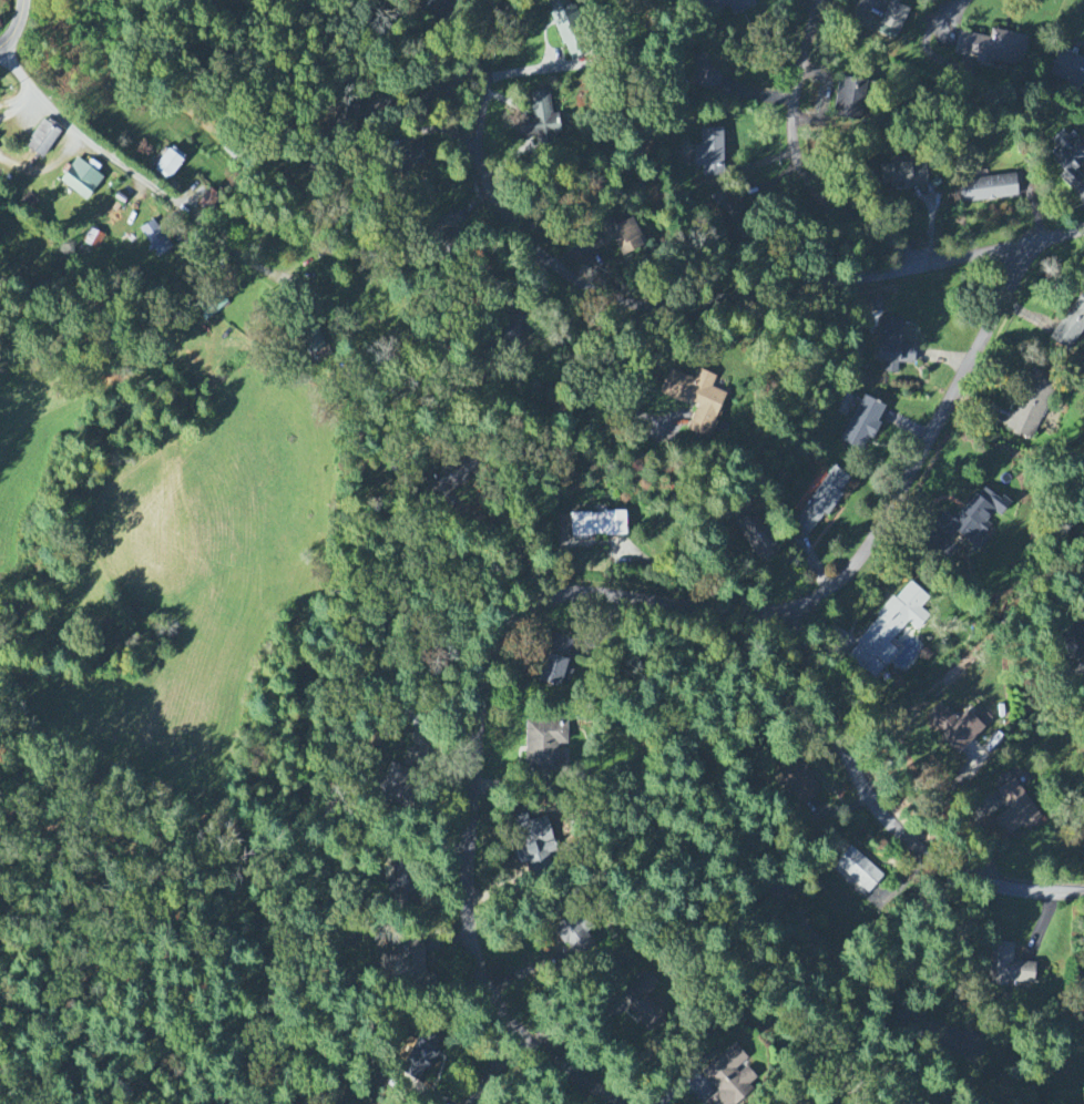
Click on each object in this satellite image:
building: (738, 6)
building: (437, 10)
building: (893, 20)
building: (563, 22)
road: (17, 27)
road: (928, 37)
building: (993, 48)
building: (1068, 70)
building: (706, 74)
building: (850, 100)
road: (10, 104)
road: (17, 106)
building: (348, 111)
road: (406, 114)
building: (543, 119)
road: (456, 120)
building: (42, 141)
building: (710, 154)
road: (796, 156)
road: (115, 159)
building: (1068, 159)
building: (408, 162)
building: (168, 164)
building: (909, 174)
building: (80, 181)
building: (988, 190)
building: (727, 203)
building: (28, 204)
building: (208, 204)
building: (621, 236)
building: (93, 239)
building: (155, 239)
road: (1000, 248)
road: (624, 304)
building: (208, 306)
building: (1070, 327)
building: (510, 331)
building: (311, 343)
building: (892, 348)
road: (625, 379)
building: (691, 401)
building: (1032, 407)
building: (862, 425)
building: (820, 502)
building: (976, 518)
building: (596, 525)
road: (512, 540)
building: (755, 540)
road: (593, 602)
building: (889, 631)
building: (1076, 648)
building: (555, 662)
building: (959, 727)
building: (543, 745)
building: (393, 783)
building: (797, 786)
road: (882, 810)
building: (1015, 810)
building: (533, 844)
building: (857, 872)
building: (576, 938)
building: (413, 962)
building: (1009, 968)
building: (642, 1003)
building: (420, 1057)
road: (499, 1064)
building: (729, 1077)

